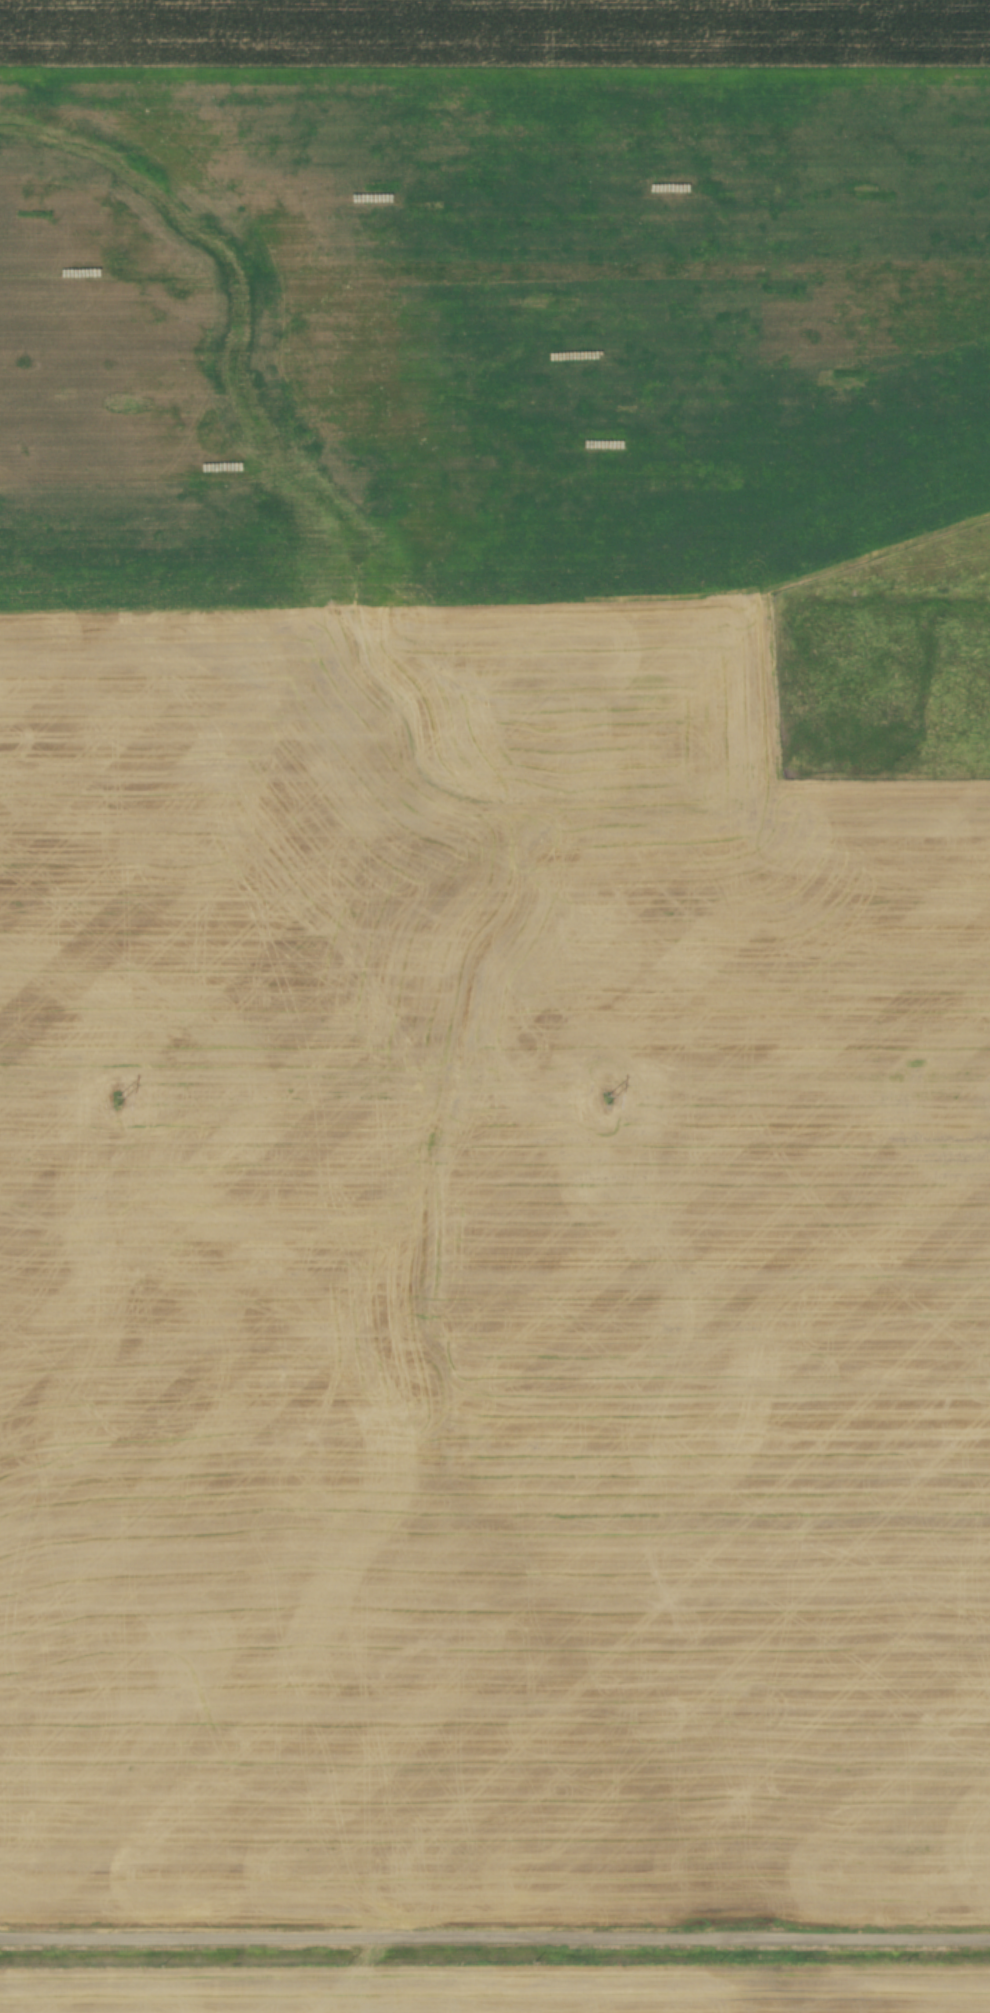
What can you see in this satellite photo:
building: (499, 406)
power tower: (605, 1101)
power tower: (115, 1102)
road: (495, 1938)

